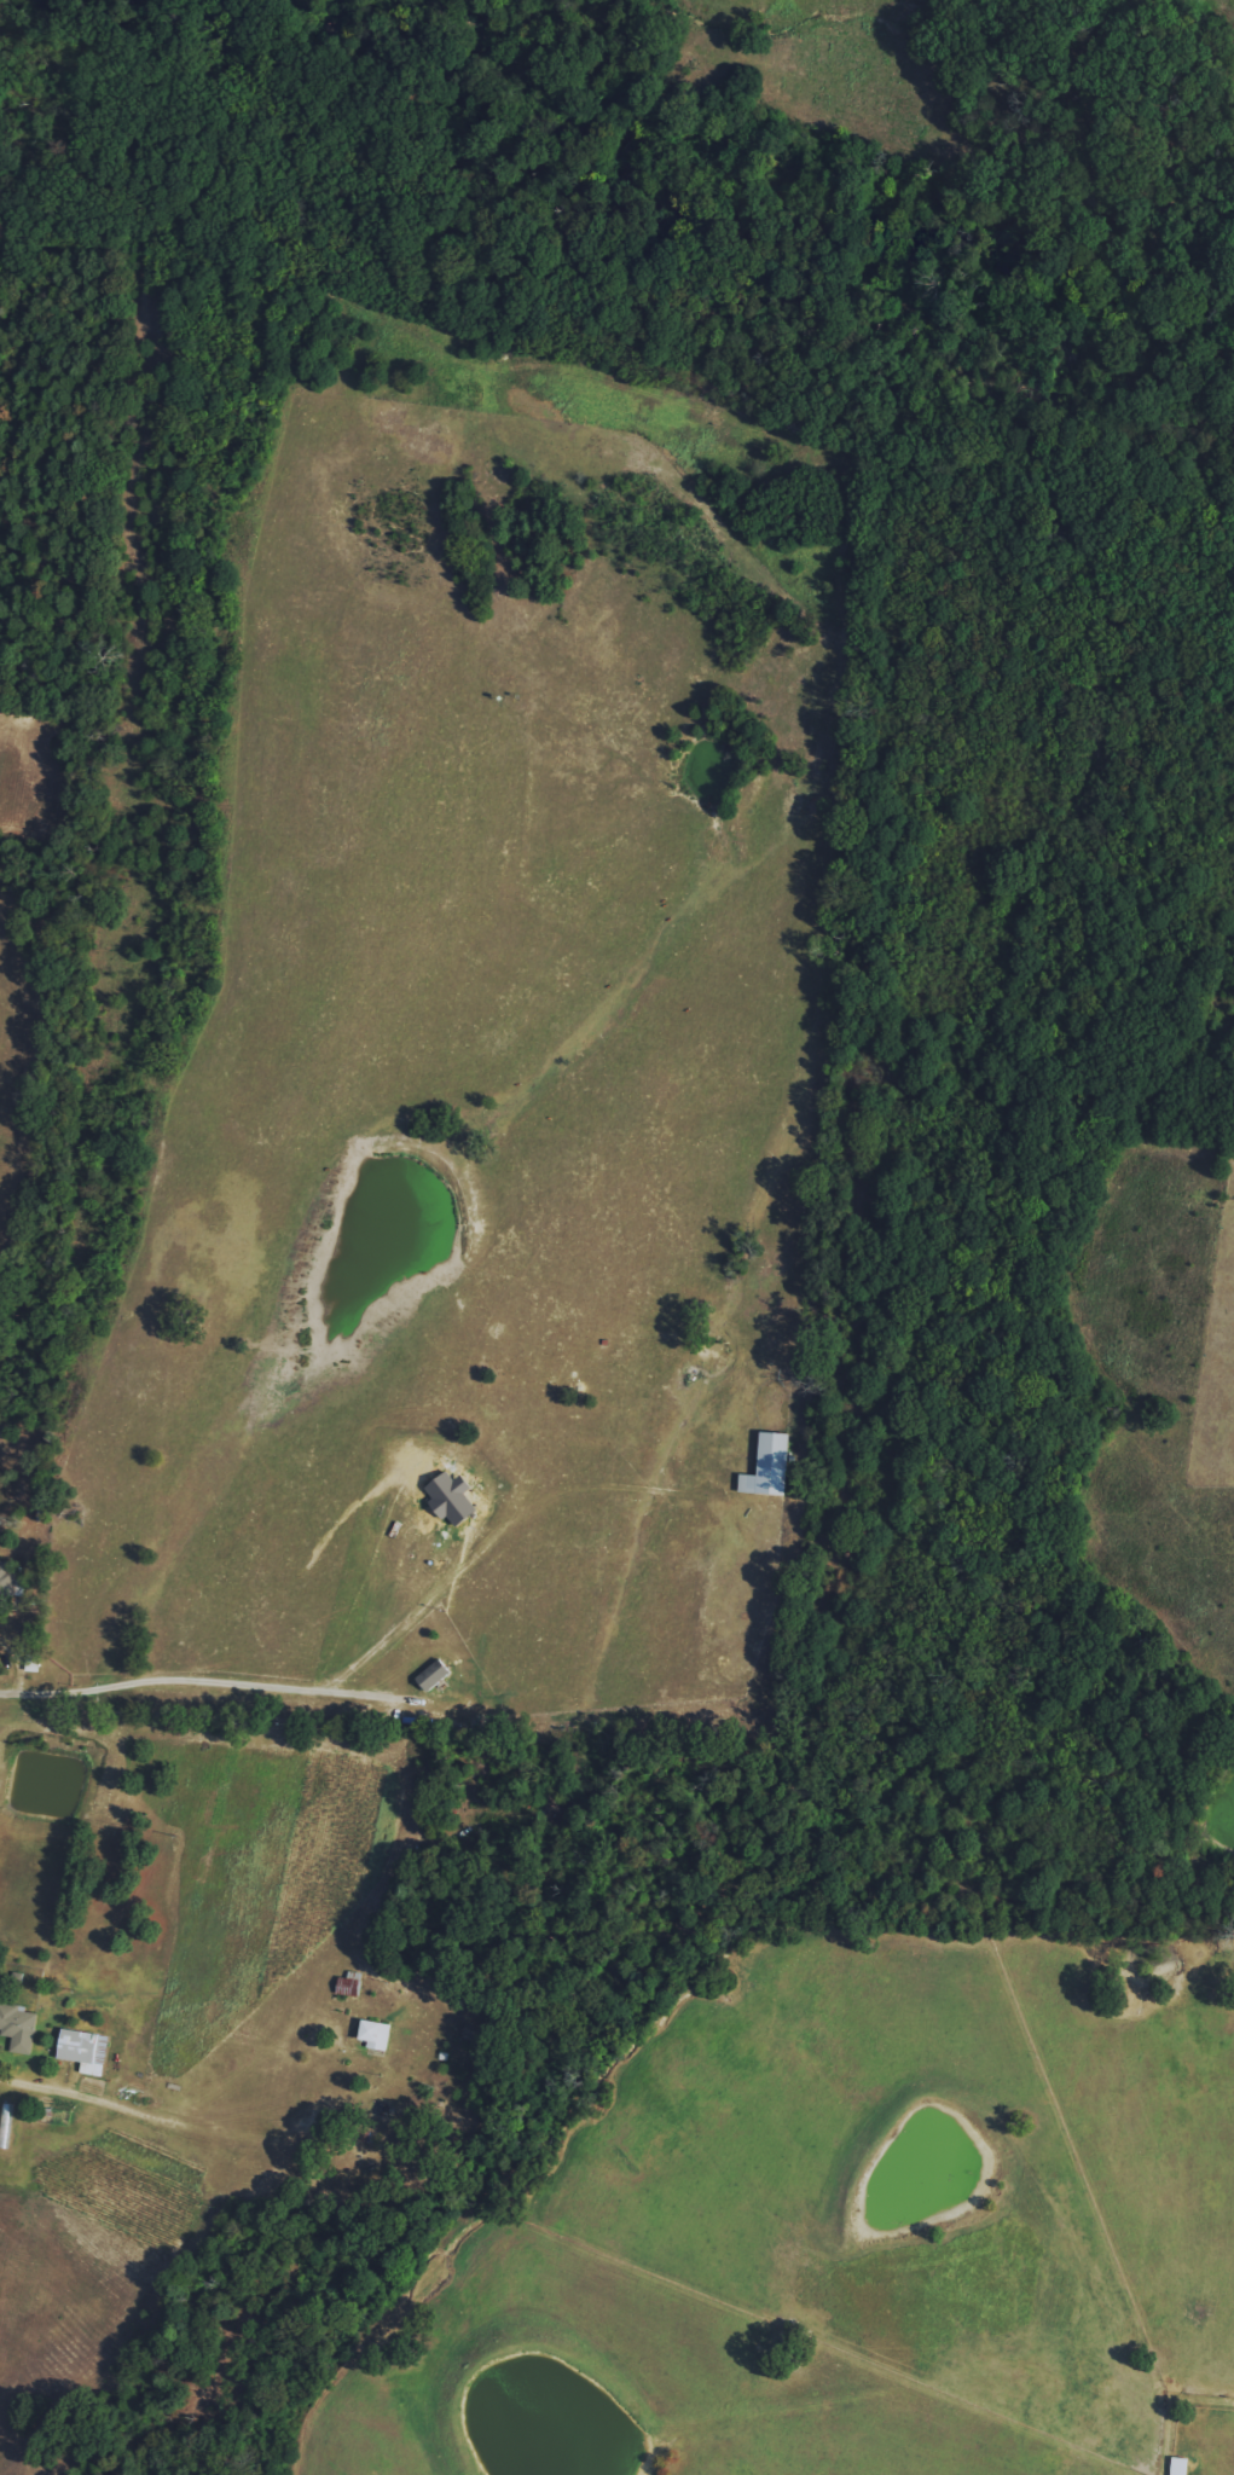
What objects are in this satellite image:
road: (82, 1456)
building: (769, 1466)
road: (493, 1528)
road: (31, 1551)
building: (8, 1582)
road: (224, 1671)
building: (433, 1675)
building: (18, 2027)
building: (375, 2035)
building: (85, 2051)
building: (1178, 2465)

